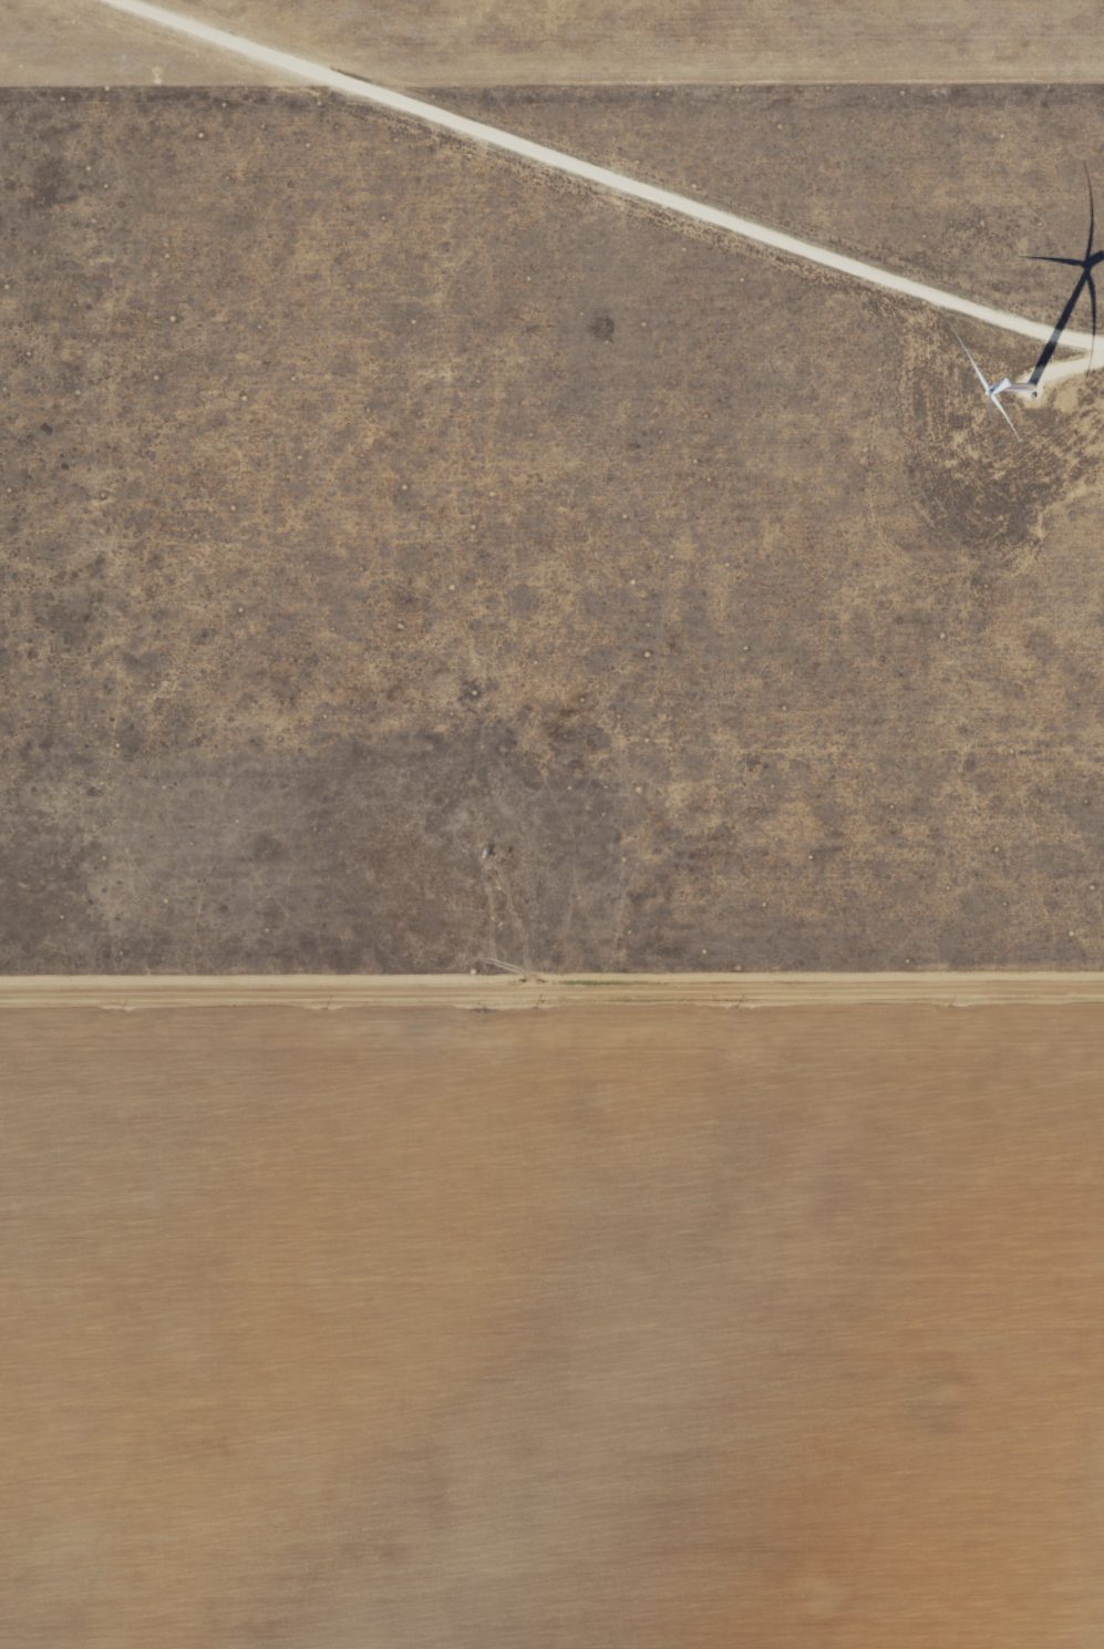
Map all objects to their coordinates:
road: (608, 178)
road: (1073, 364)
wind turbine: (1025, 393)
road: (551, 985)

